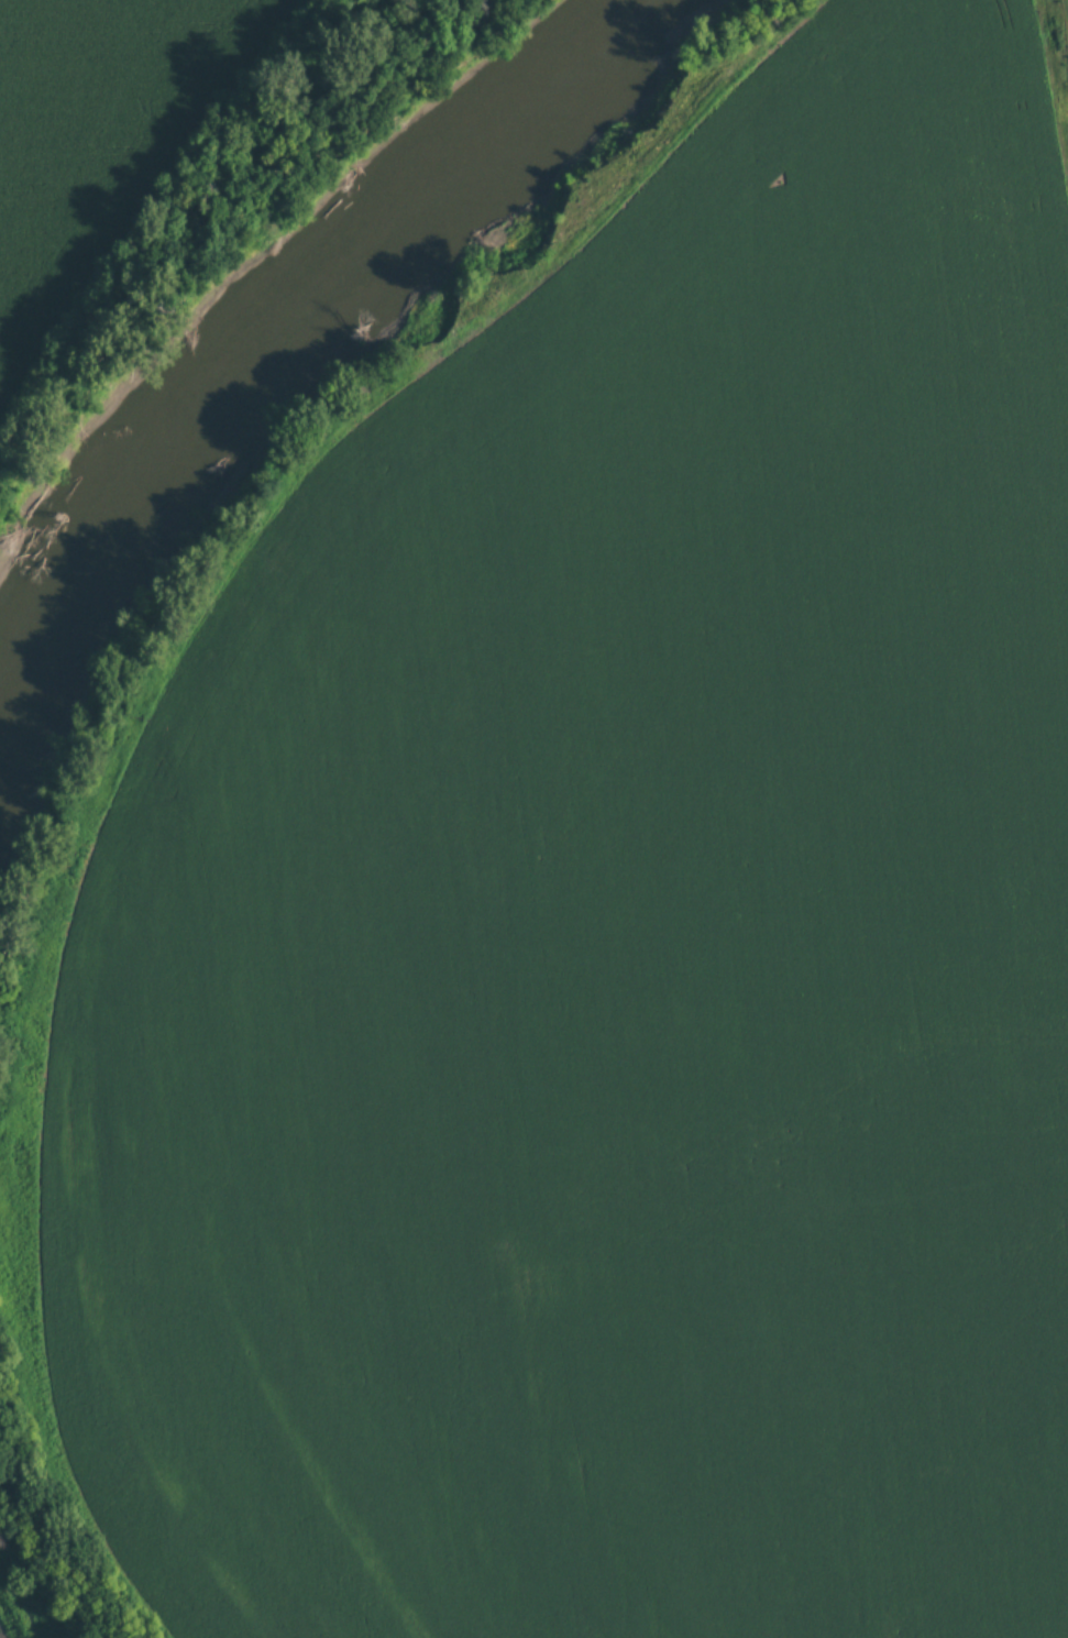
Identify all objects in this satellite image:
river: (267, 334)

